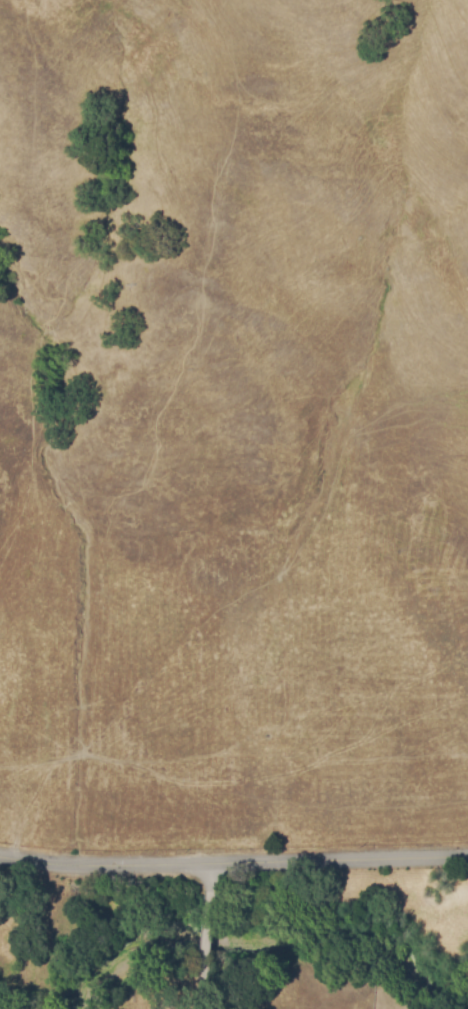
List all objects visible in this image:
road: (233, 862)
road: (219, 897)
road: (223, 969)

